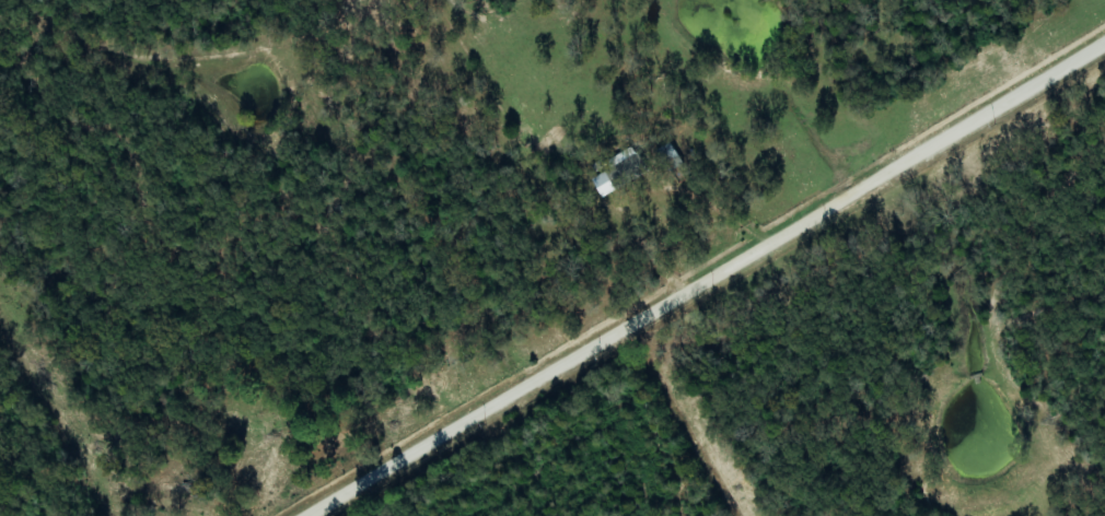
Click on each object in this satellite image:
building: (623, 172)
road: (711, 281)

